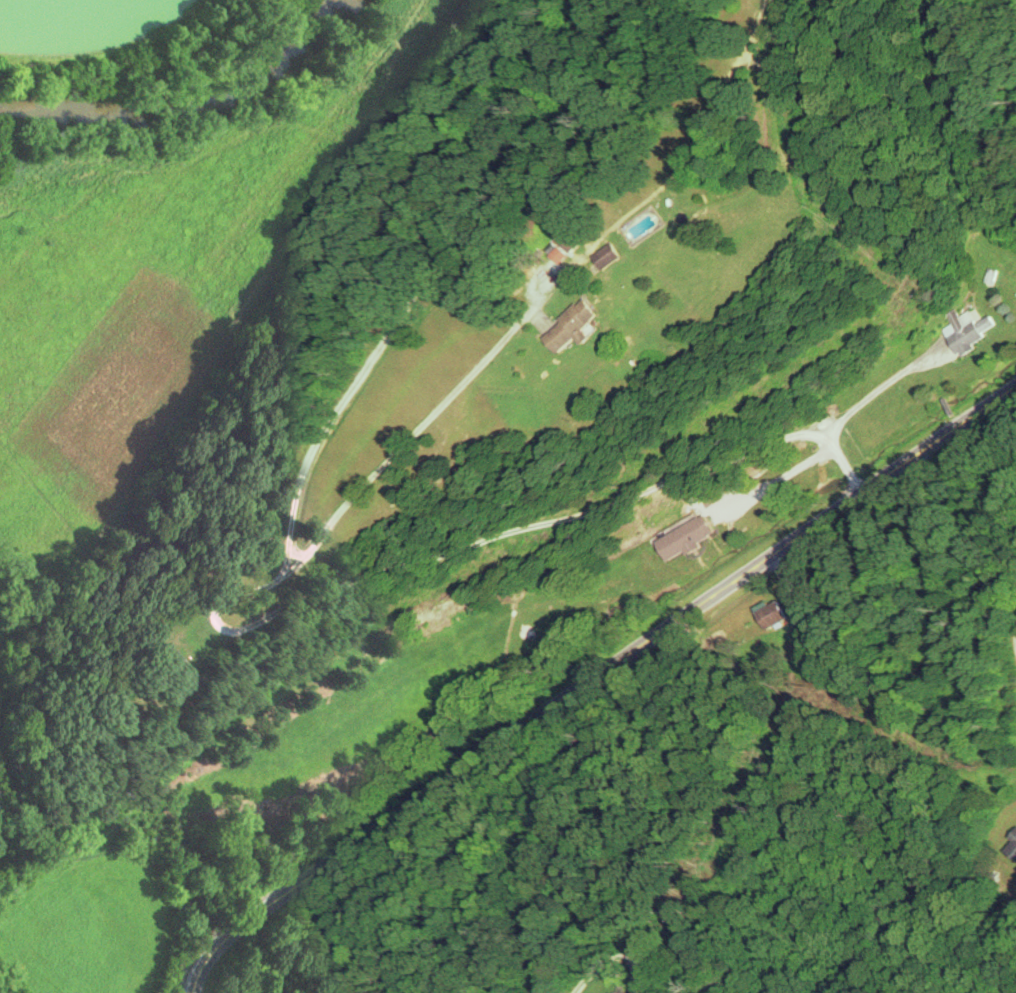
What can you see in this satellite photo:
river: (187, 100)
building: (567, 246)
building: (608, 257)
building: (572, 327)
building: (967, 331)
road: (357, 374)
building: (686, 538)
road: (332, 594)
building: (772, 614)
road: (589, 679)
building: (1012, 849)

